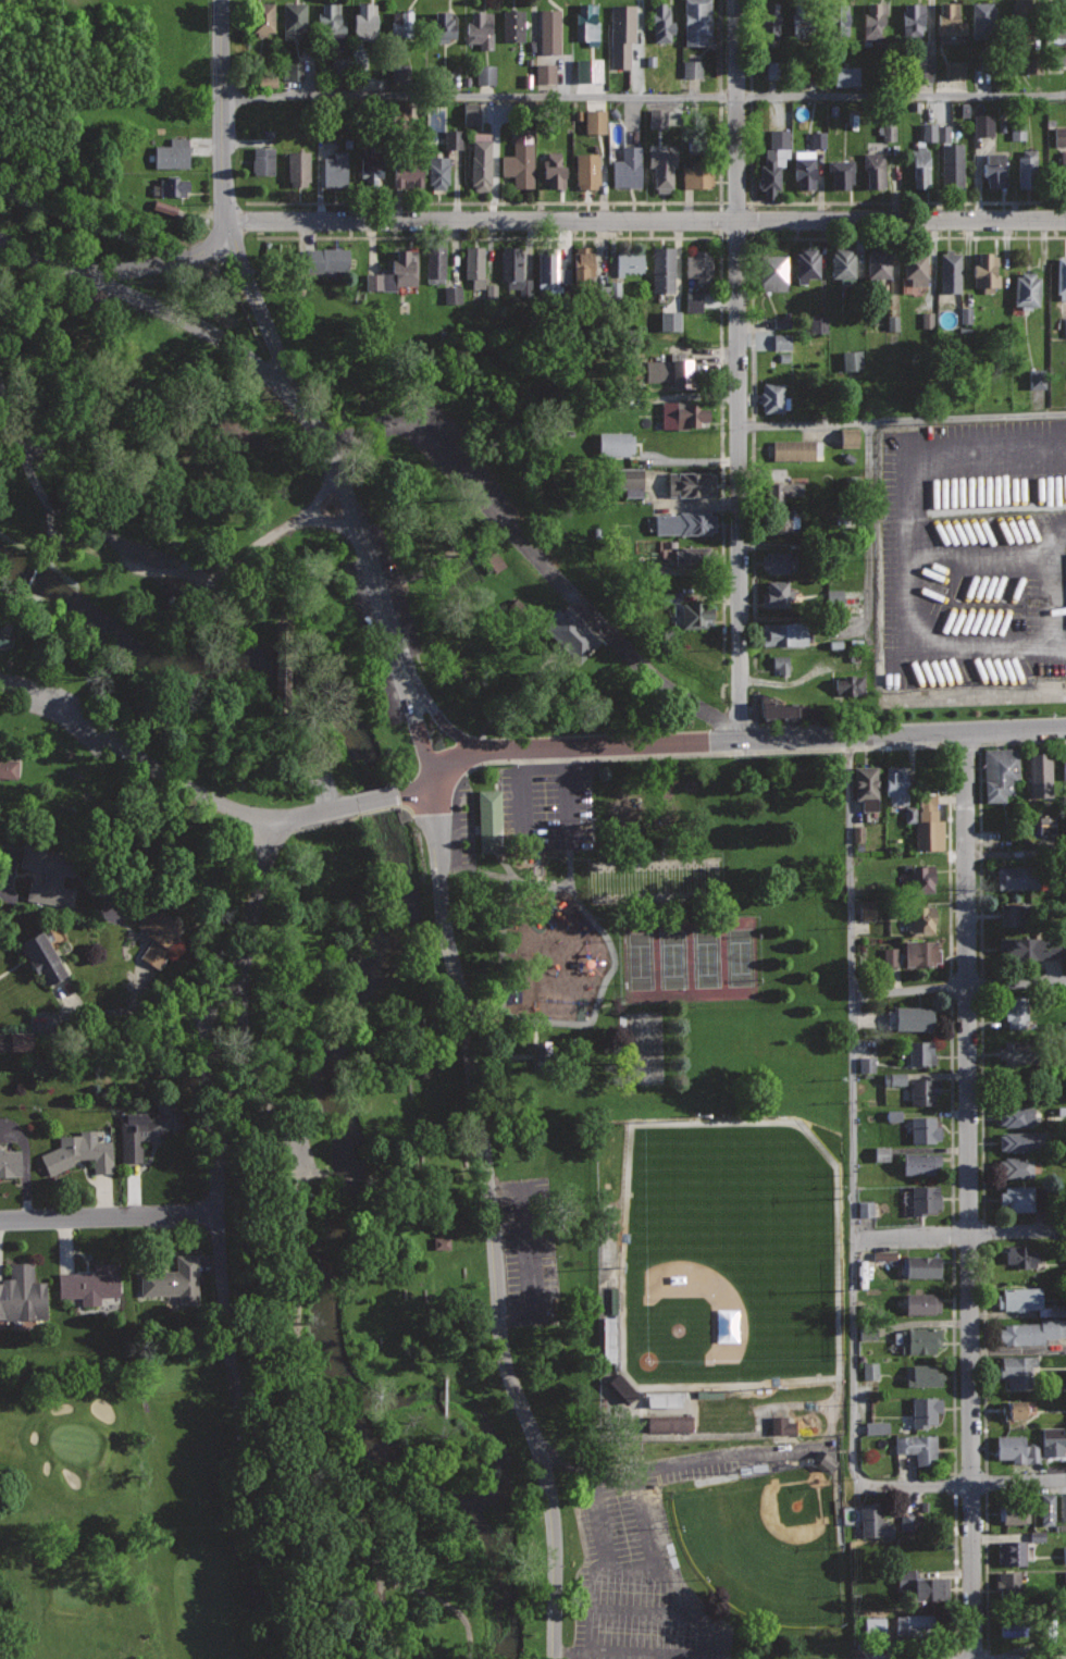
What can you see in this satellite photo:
building: (1021, 16)
building: (1056, 17)
building: (262, 18)
building: (364, 18)
building: (914, 18)
building: (951, 18)
building: (294, 20)
building: (838, 20)
building: (875, 20)
building: (984, 20)
building: (696, 21)
building: (771, 21)
building: (802, 21)
building: (661, 23)
building: (404, 24)
building: (513, 24)
building: (588, 24)
building: (333, 25)
building: (444, 27)
building: (481, 28)
building: (549, 30)
building: (623, 34)
building: (1056, 60)
building: (1032, 66)
building: (691, 69)
building: (921, 69)
building: (292, 70)
building: (587, 70)
building: (770, 70)
building: (955, 70)
building: (544, 73)
building: (484, 74)
building: (845, 76)
road: (643, 95)
road: (222, 109)
building: (470, 113)
building: (656, 117)
building: (594, 121)
building: (982, 124)
building: (888, 129)
building: (1017, 131)
building: (934, 132)
building: (1059, 136)
building: (451, 139)
building: (817, 139)
building: (697, 141)
building: (173, 152)
building: (264, 160)
building: (482, 160)
building: (521, 160)
building: (953, 163)
building: (921, 165)
building: (629, 166)
building: (299, 168)
building: (372, 168)
building: (662, 168)
building: (805, 168)
building: (1028, 168)
building: (1063, 168)
building: (335, 169)
building: (876, 169)
building: (995, 169)
building: (555, 170)
building: (588, 170)
building: (409, 171)
building: (438, 171)
building: (770, 172)
building: (842, 173)
building: (697, 174)
building: (171, 185)
road: (582, 201)
road: (806, 201)
building: (163, 208)
road: (643, 221)
road: (698, 236)
road: (32, 253)
building: (326, 258)
building: (435, 262)
building: (629, 262)
building: (582, 263)
road: (149, 264)
building: (475, 264)
building: (807, 264)
building: (843, 264)
building: (878, 264)
building: (699, 265)
building: (548, 267)
building: (128, 268)
building: (664, 269)
building: (915, 269)
building: (515, 270)
building: (772, 272)
building: (951, 272)
building: (396, 273)
building: (987, 274)
building: (1061, 278)
building: (1027, 288)
building: (450, 294)
building: (692, 301)
road: (262, 312)
building: (669, 320)
building: (926, 320)
building: (781, 322)
road: (190, 323)
building: (892, 323)
building: (818, 324)
building: (1065, 326)
building: (781, 342)
building: (851, 360)
building: (672, 370)
road: (739, 371)
road: (751, 372)
building: (1036, 377)
building: (773, 396)
building: (689, 413)
road: (903, 421)
road: (371, 431)
building: (848, 438)
building: (616, 443)
road: (24, 449)
building: (797, 449)
road: (461, 475)
building: (627, 481)
building: (690, 483)
building: (782, 491)
road: (334, 520)
building: (777, 520)
building: (684, 521)
road: (50, 532)
parking lot: (974, 553)
road: (979, 553)
road: (903, 555)
building: (489, 556)
road: (369, 559)
building: (684, 559)
building: (779, 560)
road: (214, 564)
road: (30, 580)
road: (274, 581)
road: (1055, 584)
building: (777, 593)
building: (669, 597)
building: (833, 597)
road: (584, 605)
building: (696, 615)
road: (12, 619)
building: (784, 632)
building: (572, 635)
building: (4, 640)
parking lot: (379, 640)
building: (281, 663)
road: (282, 663)
building: (781, 663)
road: (413, 677)
building: (851, 684)
building: (790, 708)
road: (701, 710)
road: (455, 732)
road: (902, 735)
road: (422, 748)
road: (582, 748)
road: (818, 750)
road: (292, 759)
building: (8, 768)
building: (1063, 768)
building: (1001, 772)
building: (1041, 773)
road: (170, 776)
building: (896, 783)
building: (868, 787)
road: (417, 788)
road: (377, 798)
parking lot: (544, 807)
road: (979, 816)
parking lot: (462, 817)
building: (487, 821)
building: (927, 822)
building: (1045, 830)
building: (857, 833)
road: (547, 840)
road: (1016, 854)
road: (536, 868)
building: (51, 872)
road: (504, 876)
building: (1018, 876)
building: (921, 877)
park: (655, 880)
road: (261, 887)
building: (866, 909)
building: (1016, 914)
building: (922, 918)
building: (159, 932)
building: (1030, 946)
building: (921, 952)
building: (44, 955)
building: (889, 957)
road: (495, 960)
park: (693, 960)
park: (445, 976)
road: (958, 987)
road: (852, 988)
road: (595, 1001)
building: (1017, 1010)
building: (915, 1017)
building: (15, 1041)
river: (339, 1043)
road: (204, 1045)
park: (643, 1047)
road: (240, 1051)
building: (921, 1051)
building: (1019, 1051)
building: (866, 1065)
building: (893, 1079)
building: (925, 1089)
building: (1015, 1091)
road: (950, 1109)
road: (982, 1109)
building: (893, 1115)
building: (1017, 1115)
building: (147, 1127)
building: (925, 1128)
building: (1022, 1141)
building: (79, 1152)
building: (881, 1154)
building: (10, 1162)
building: (921, 1162)
building: (1017, 1165)
road: (969, 1196)
building: (1017, 1198)
building: (925, 1199)
building: (864, 1210)
road: (108, 1216)
road: (491, 1220)
road: (960, 1235)
building: (441, 1242)
road: (219, 1243)
parking lot: (529, 1252)
road: (528, 1254)
park: (729, 1255)
building: (883, 1255)
building: (1021, 1255)
building: (922, 1264)
building: (174, 1279)
building: (90, 1283)
road: (297, 1288)
building: (22, 1292)
building: (1019, 1297)
building: (613, 1300)
building: (922, 1302)
building: (1032, 1330)
building: (607, 1339)
building: (919, 1339)
road: (984, 1357)
road: (953, 1359)
road: (854, 1362)
building: (1017, 1369)
building: (869, 1372)
building: (924, 1374)
building: (618, 1389)
building: (709, 1395)
road: (447, 1398)
road: (148, 1409)
building: (1018, 1409)
building: (926, 1410)
building: (668, 1424)
building: (781, 1426)
building: (876, 1427)
building: (1053, 1441)
building: (919, 1447)
building: (1017, 1448)
building: (826, 1463)
road: (673, 1464)
building: (781, 1466)
road: (959, 1486)
road: (253, 1499)
building: (1063, 1506)
building: (835, 1507)
building: (1045, 1508)
park: (125, 1512)
building: (1015, 1512)
building: (875, 1520)
building: (913, 1523)
building: (1037, 1536)
park: (765, 1544)
road: (653, 1545)
building: (1013, 1551)
building: (1064, 1555)
parking lot: (643, 1563)
road: (955, 1572)
road: (612, 1573)
road: (987, 1573)
building: (1064, 1578)
building: (924, 1585)
building: (1009, 1585)
road: (442, 1598)
road: (387, 1613)
road: (667, 1617)
building: (916, 1624)
building: (873, 1625)
building: (1014, 1629)
road: (573, 1655)
road: (639, 1656)

